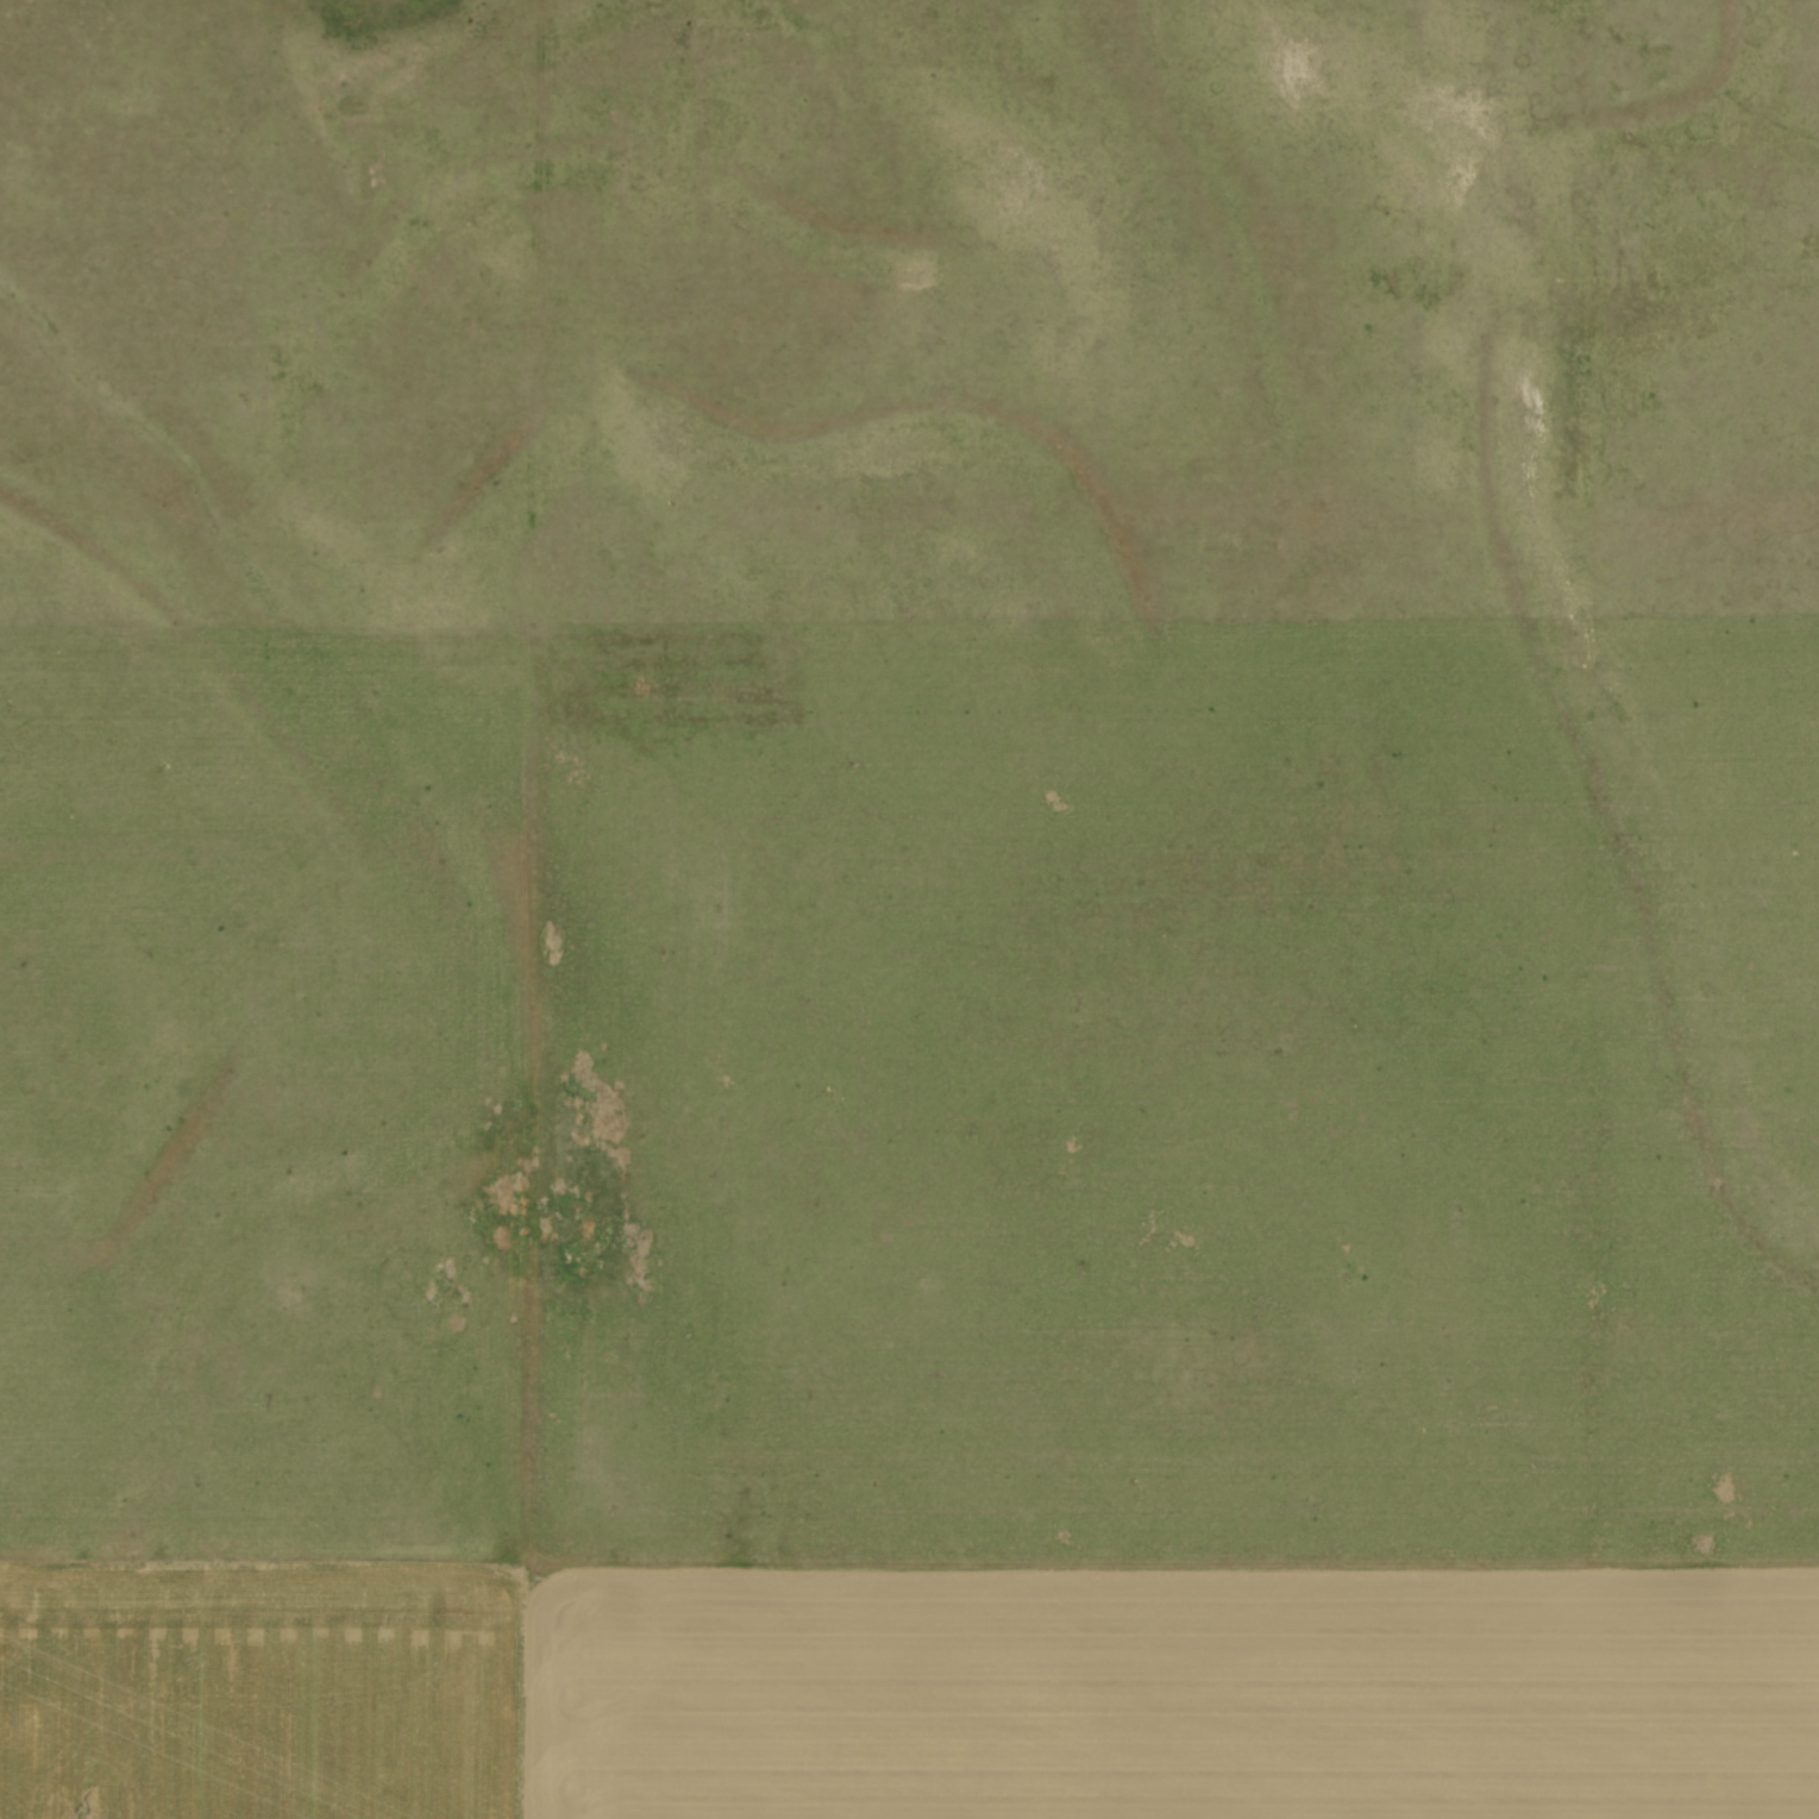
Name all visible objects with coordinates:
crop: (911, 1689)
power tower: (86, 1817)

